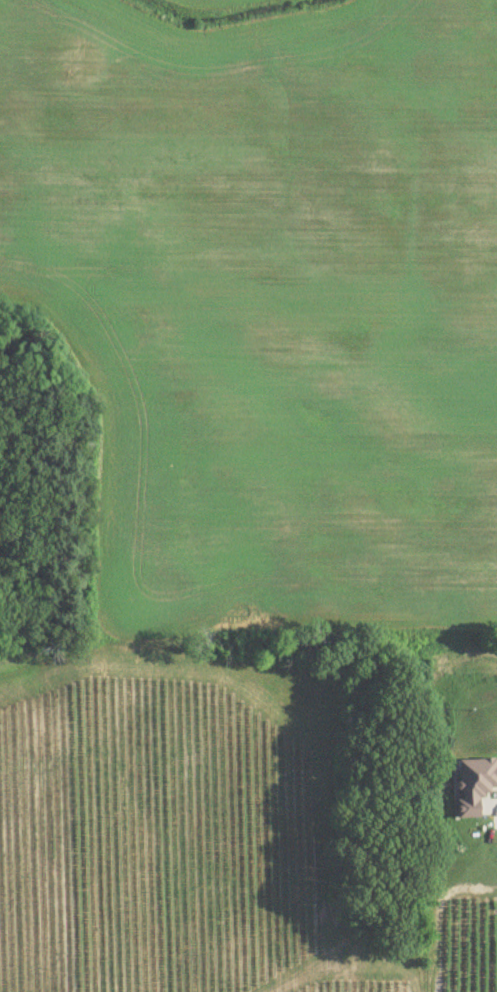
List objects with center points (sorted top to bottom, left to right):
building: (475, 783)

